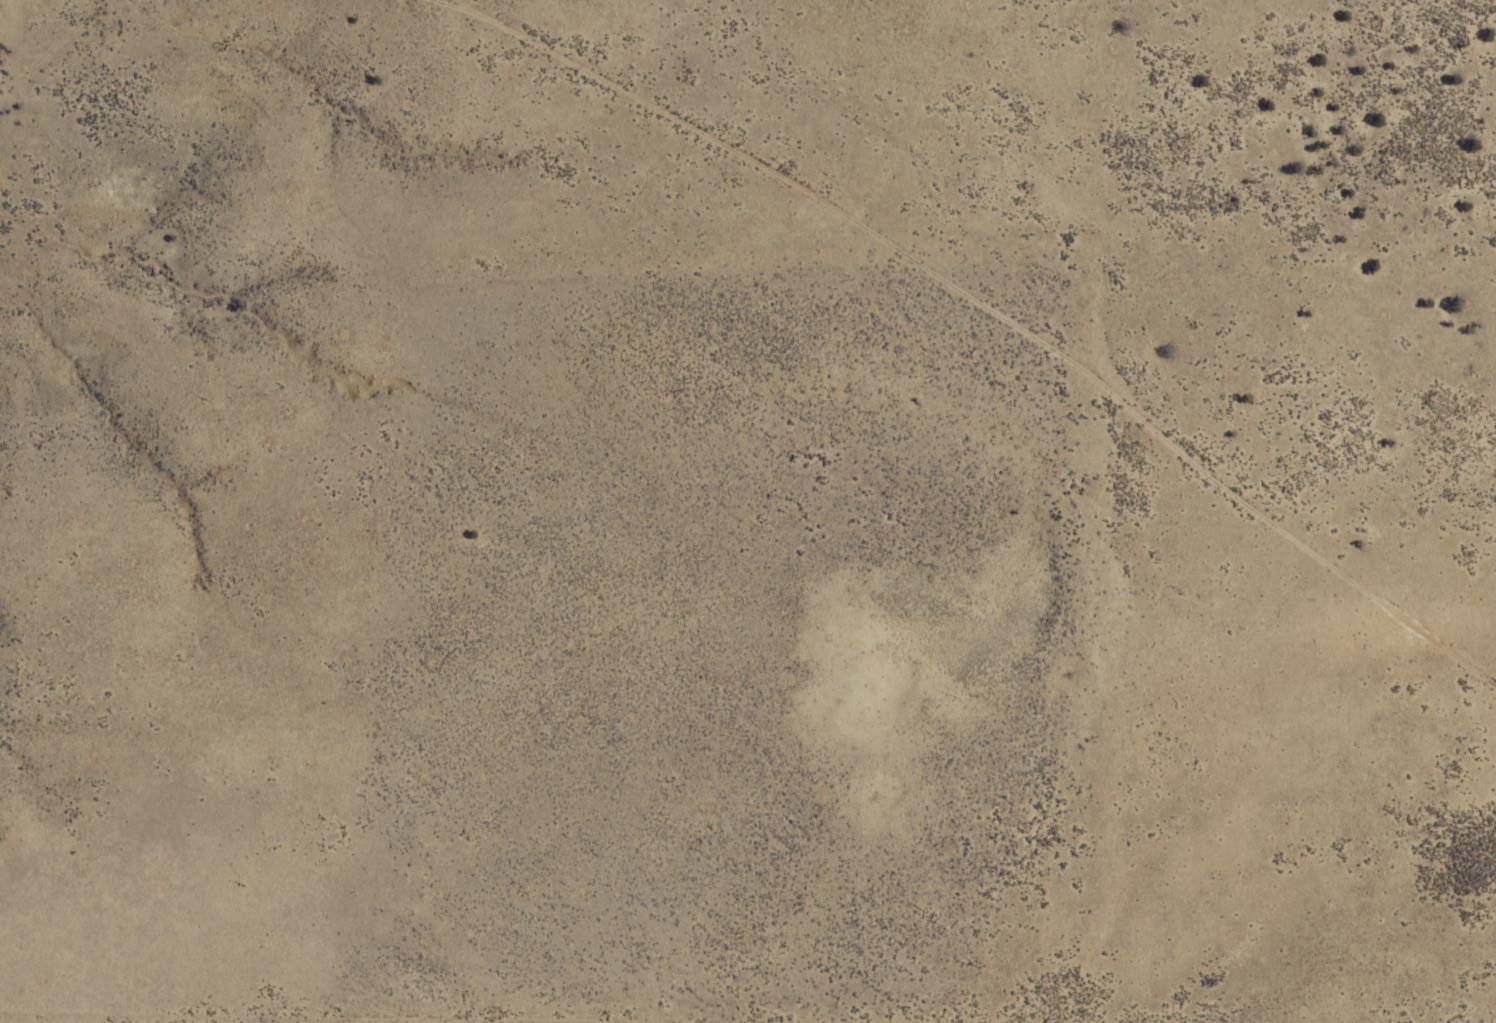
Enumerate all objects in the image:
road: (835, 994)
road: (160, 1011)

